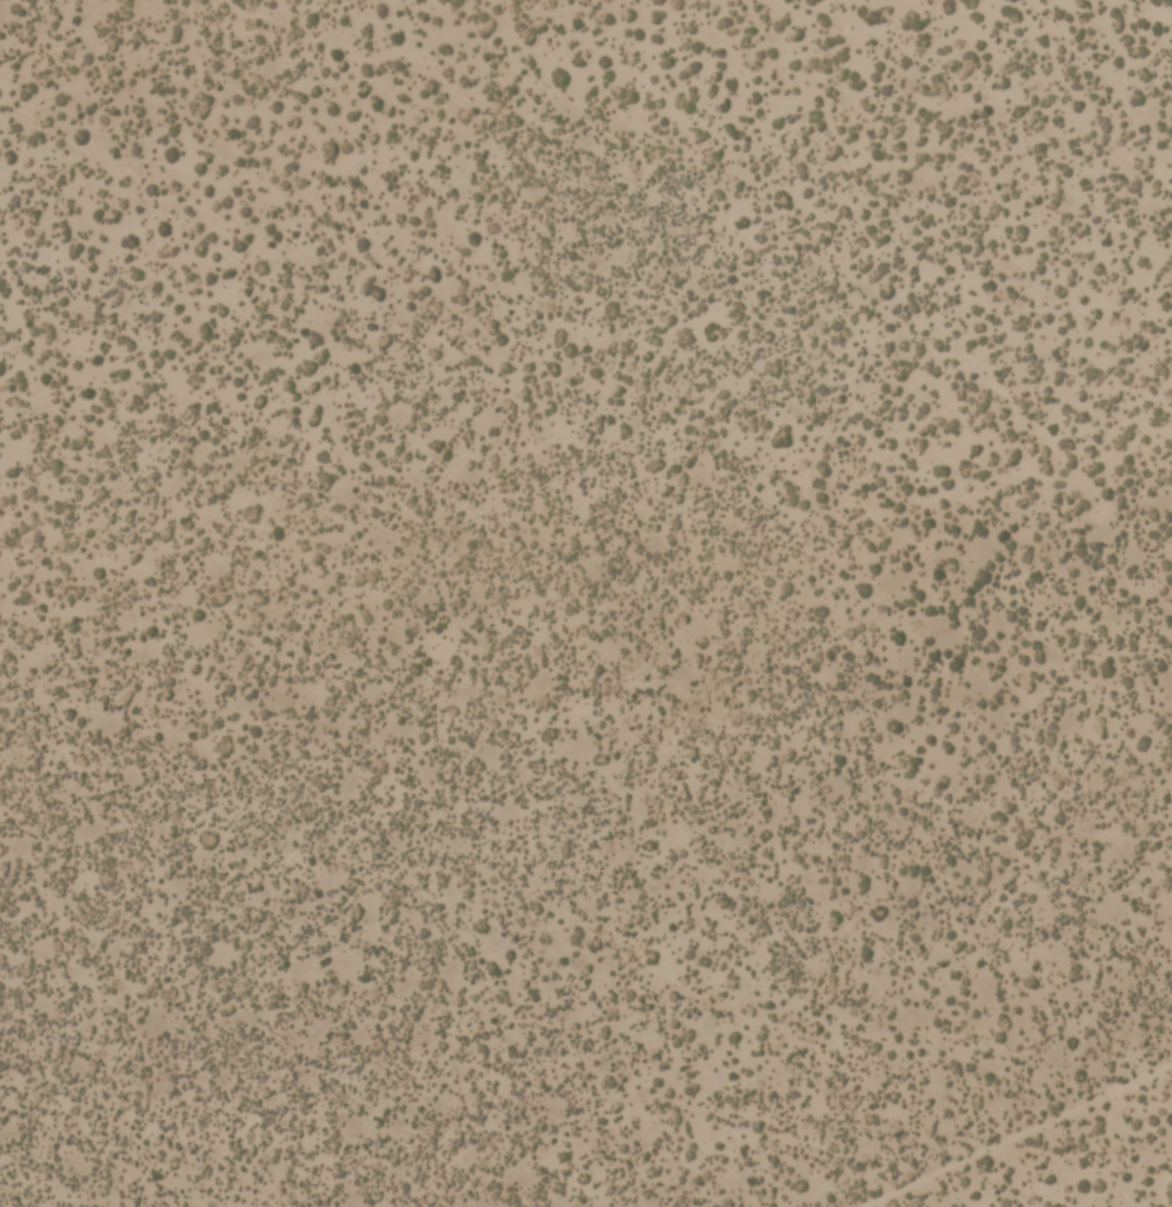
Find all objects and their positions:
road: (1010, 1132)

